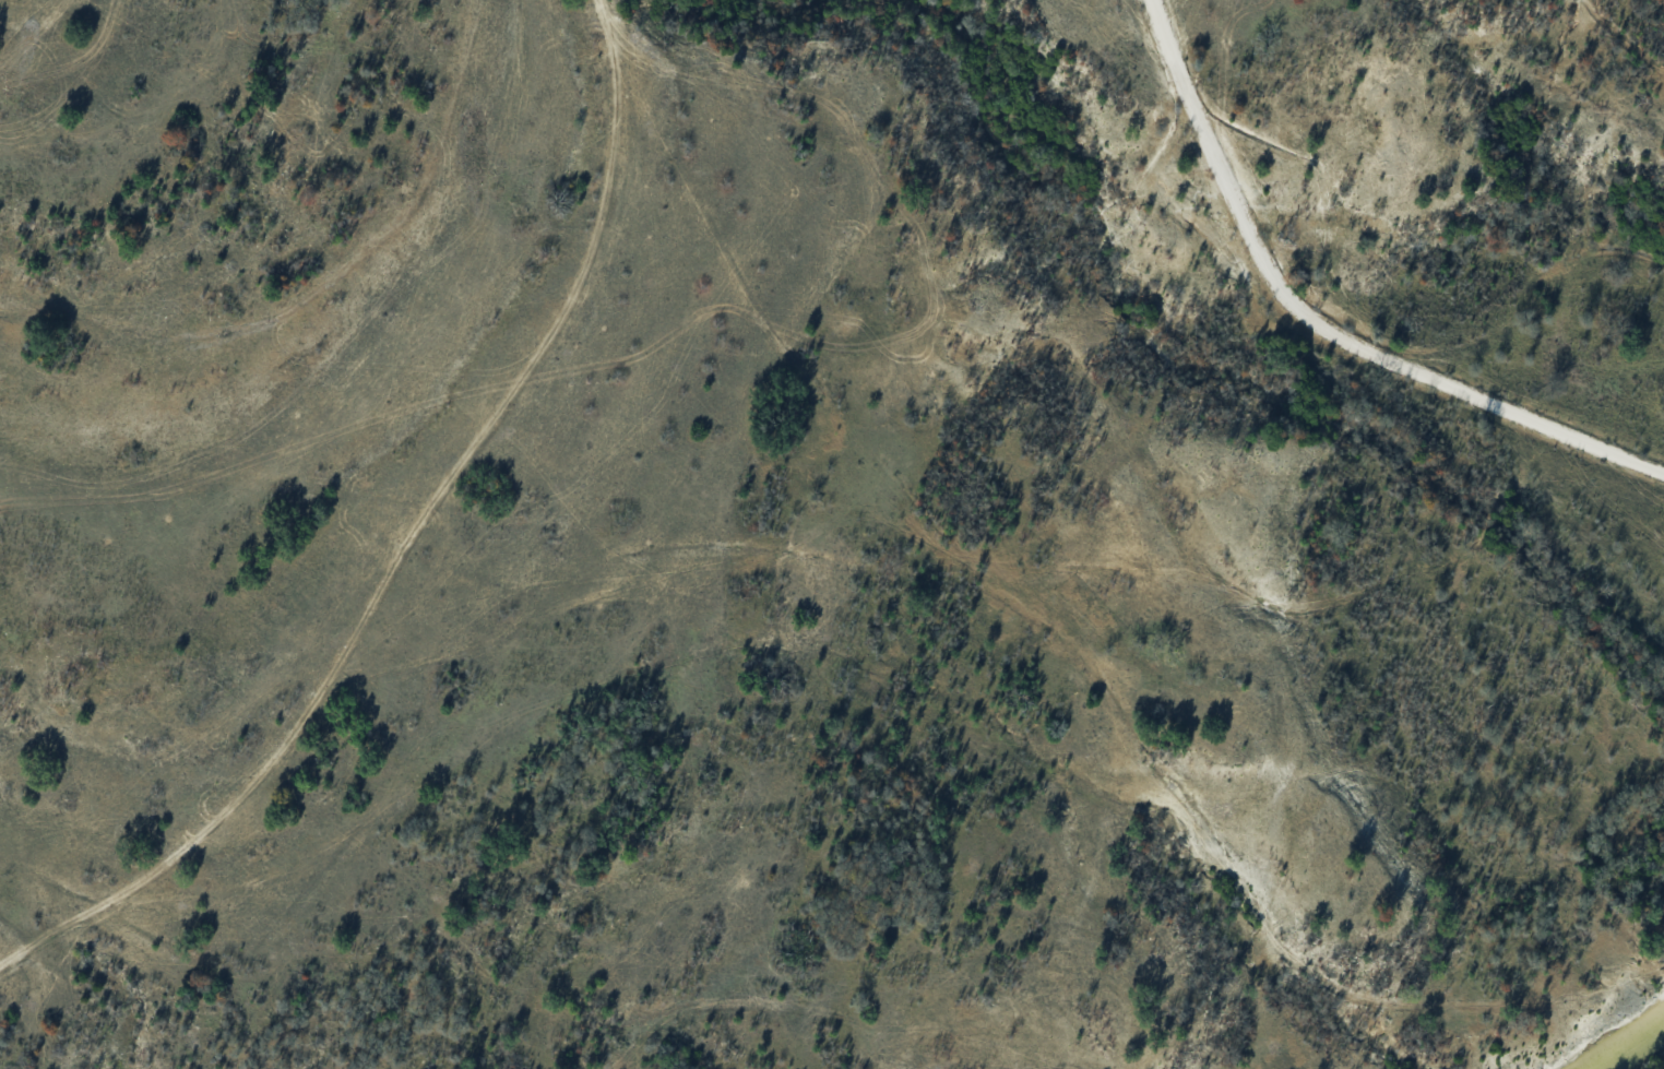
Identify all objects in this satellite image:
road: (1471, 390)

